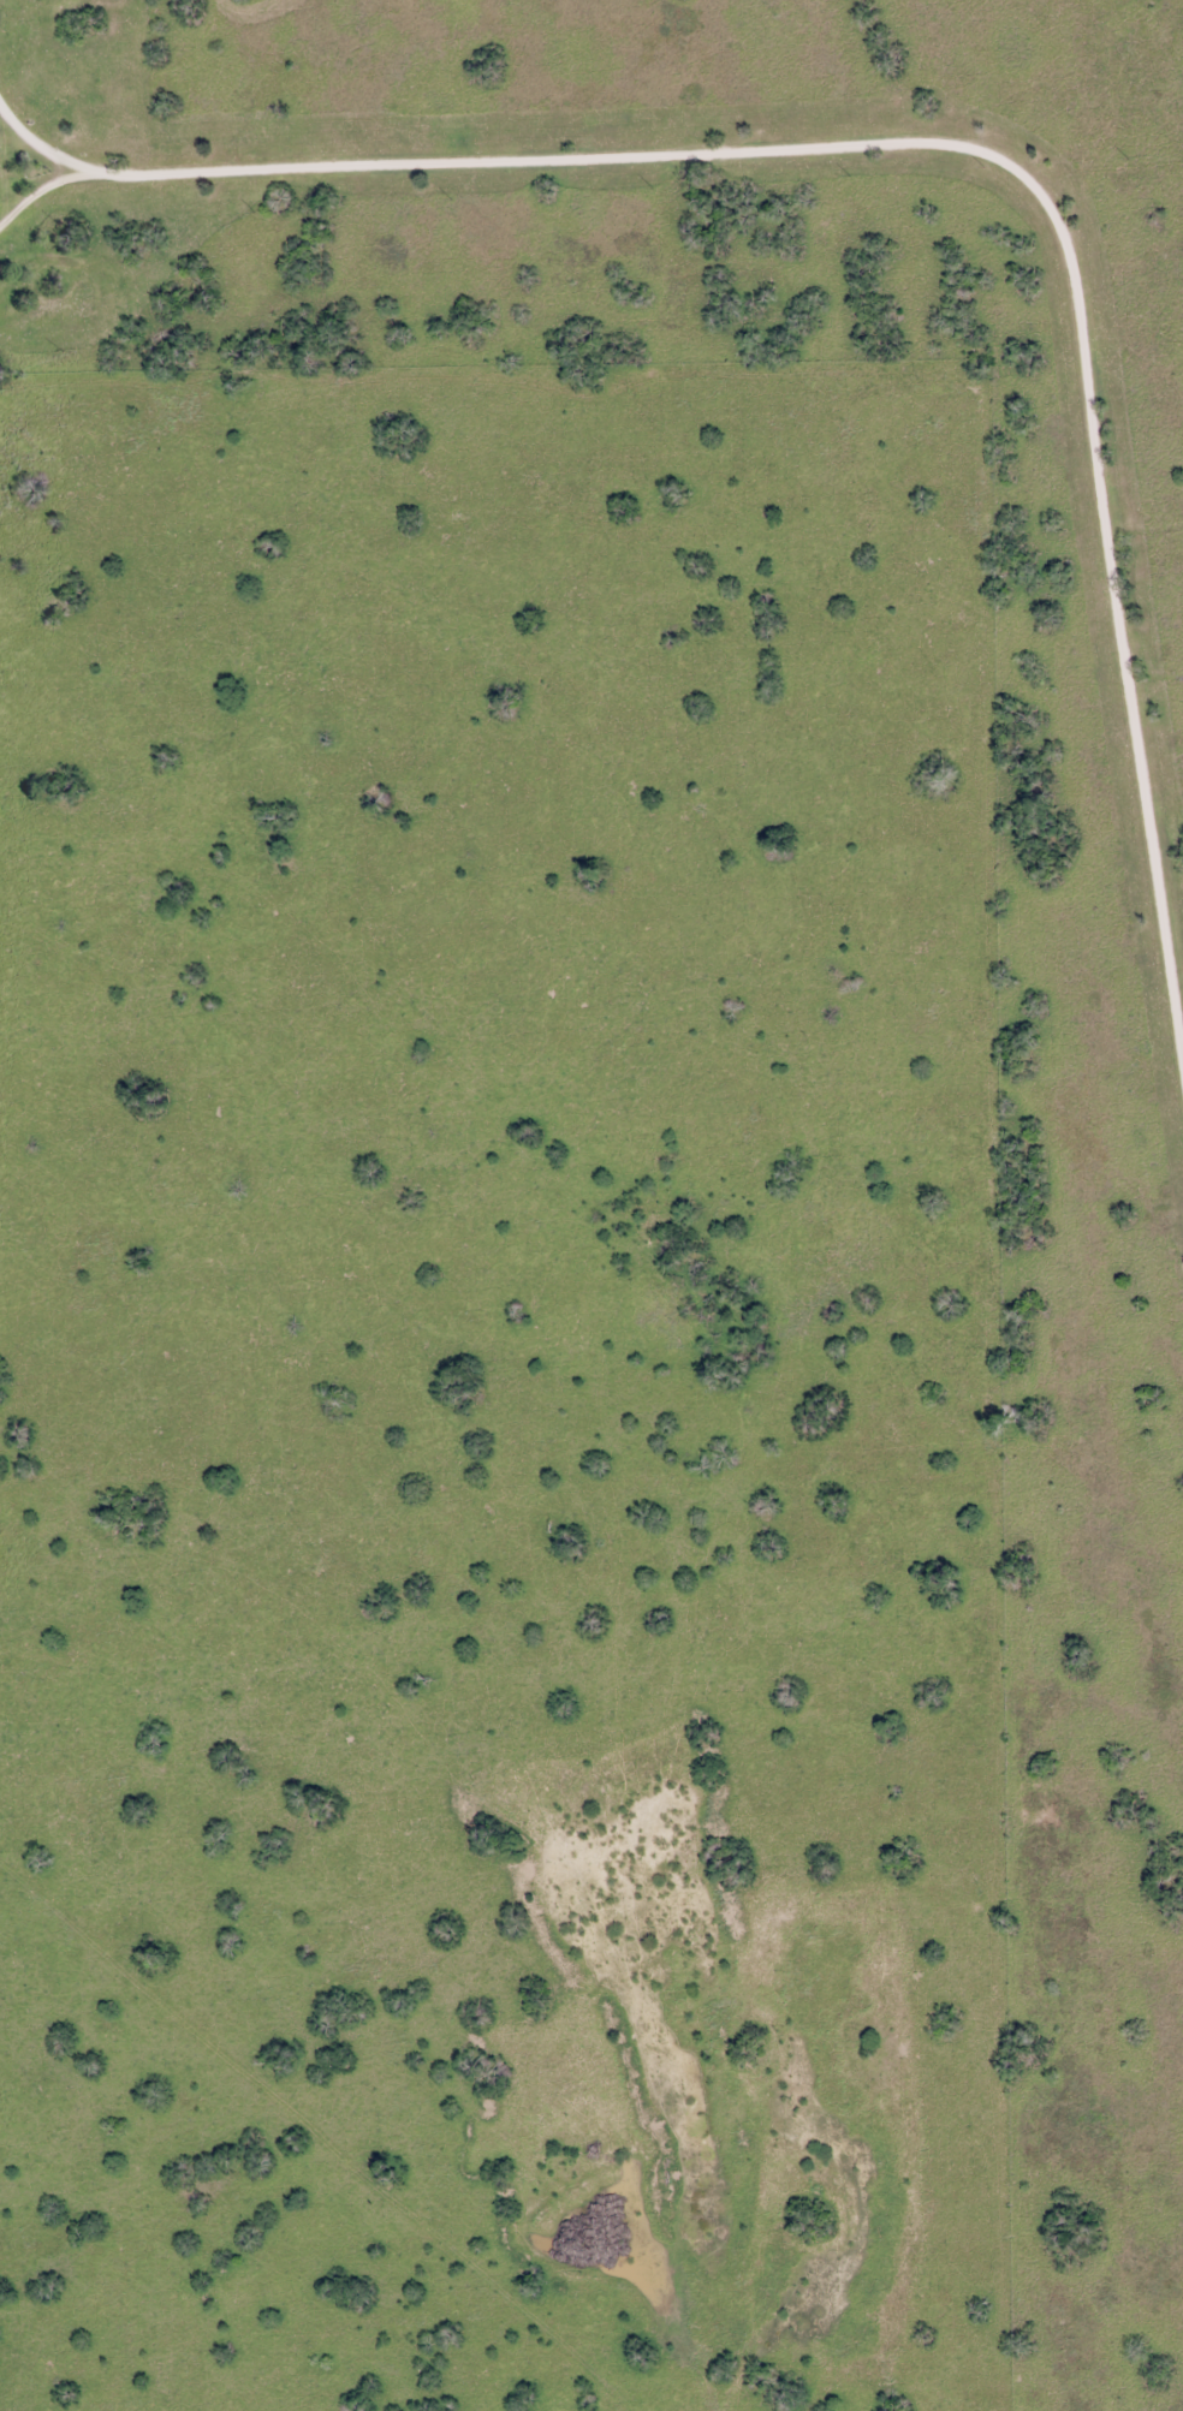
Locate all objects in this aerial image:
road: (878, 165)
road: (47, 202)

